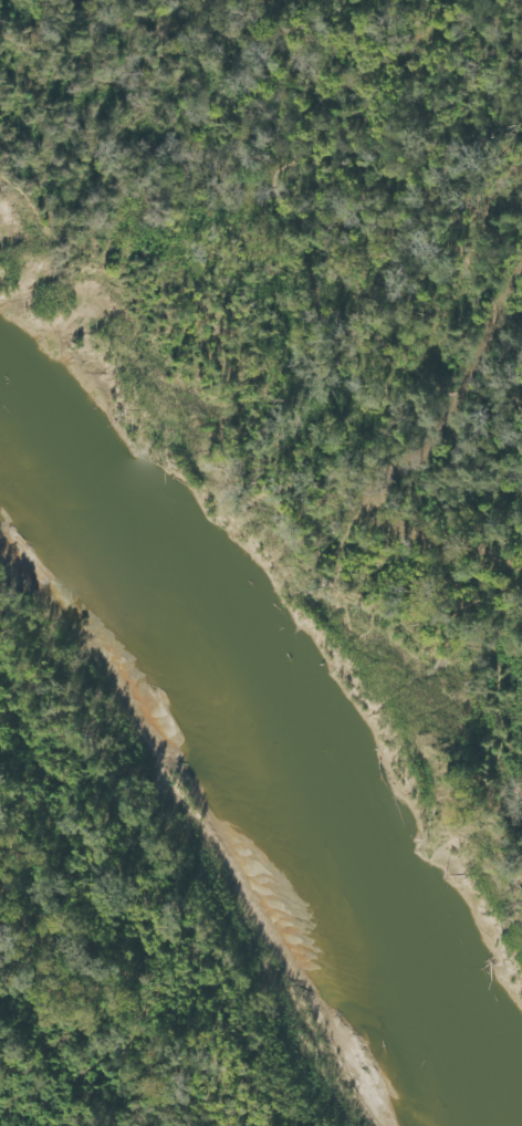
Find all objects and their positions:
river: (223, 783)

